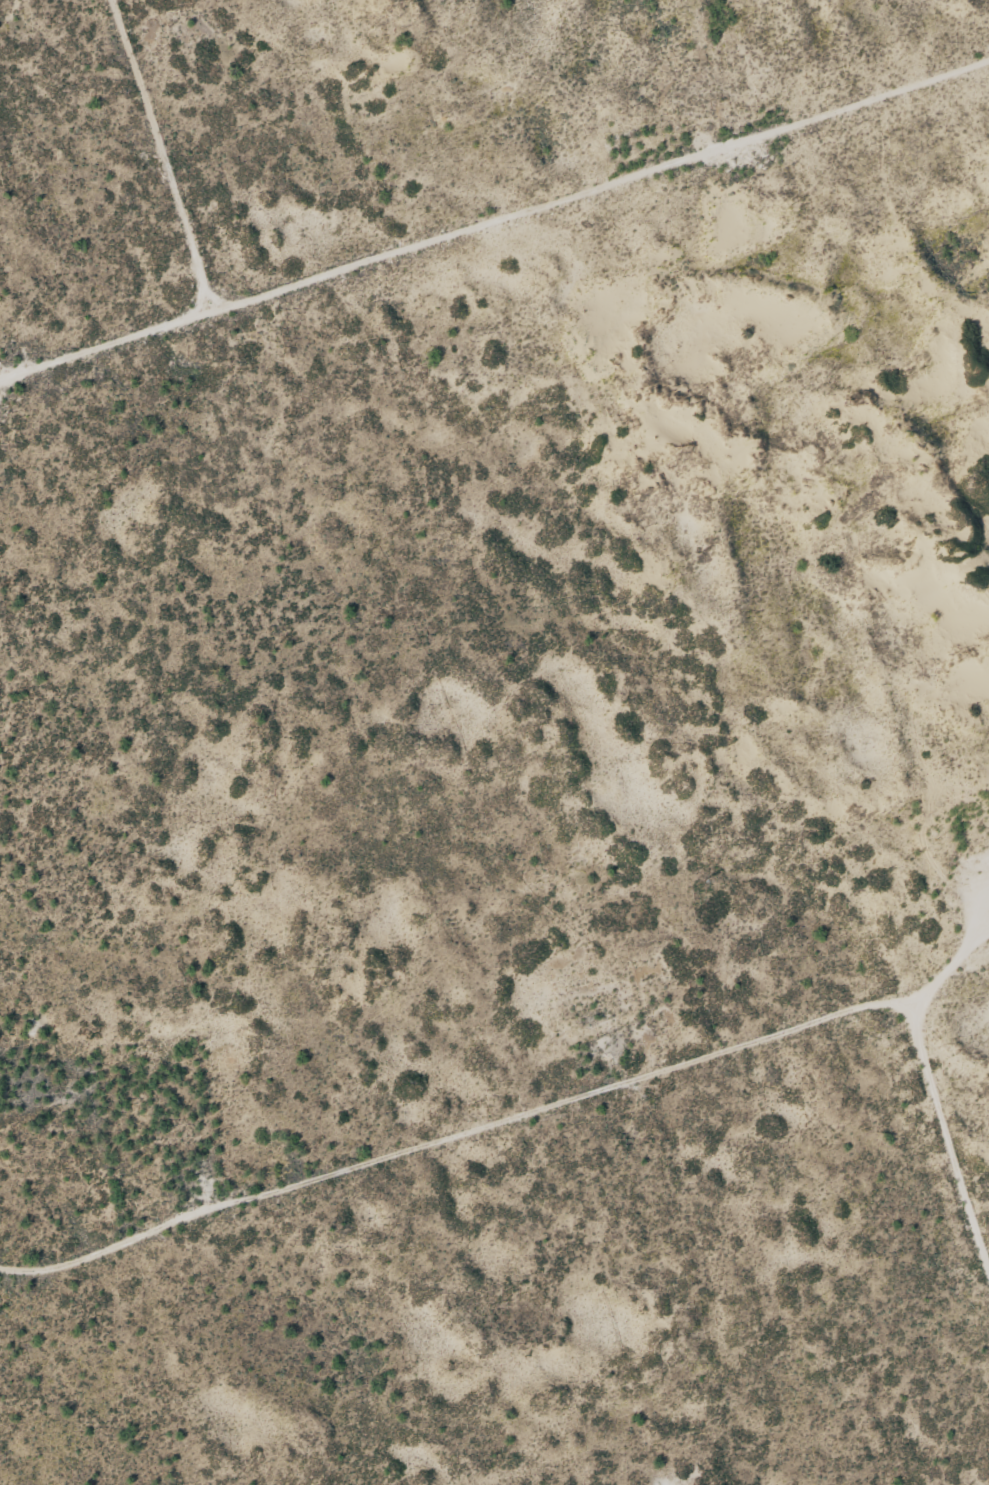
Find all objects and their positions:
road: (158, 168)
road: (103, 375)
road: (576, 1109)

